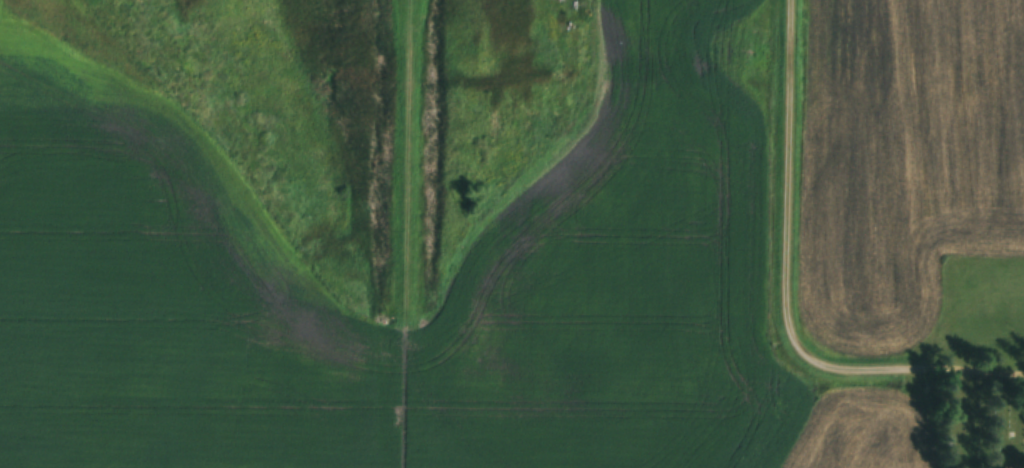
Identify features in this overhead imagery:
road: (792, 251)

